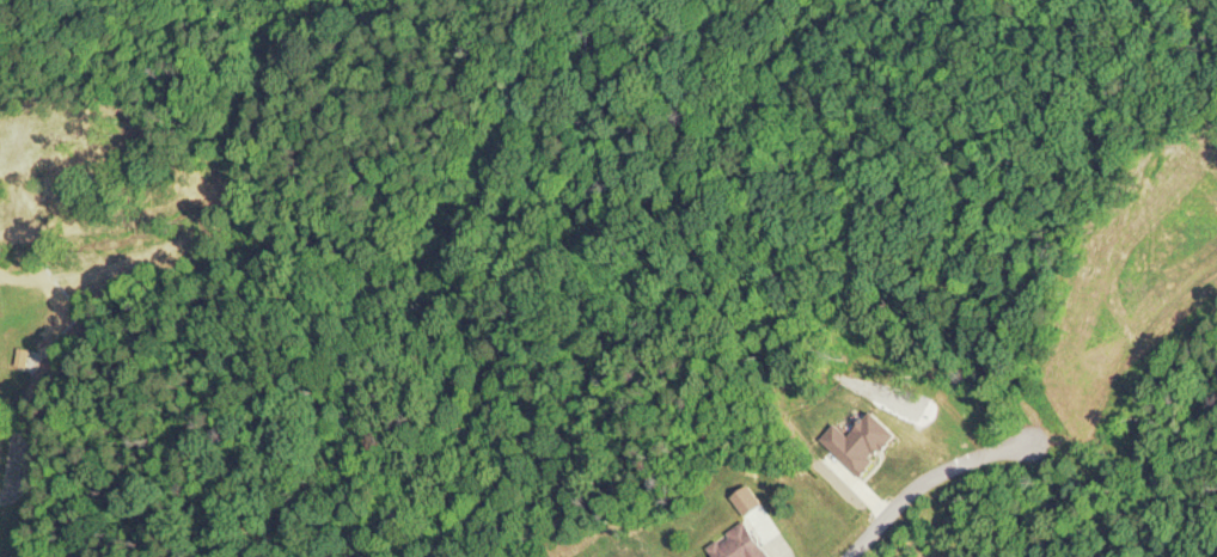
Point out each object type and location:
road: (1130, 345)
road: (924, 477)
building: (735, 544)

